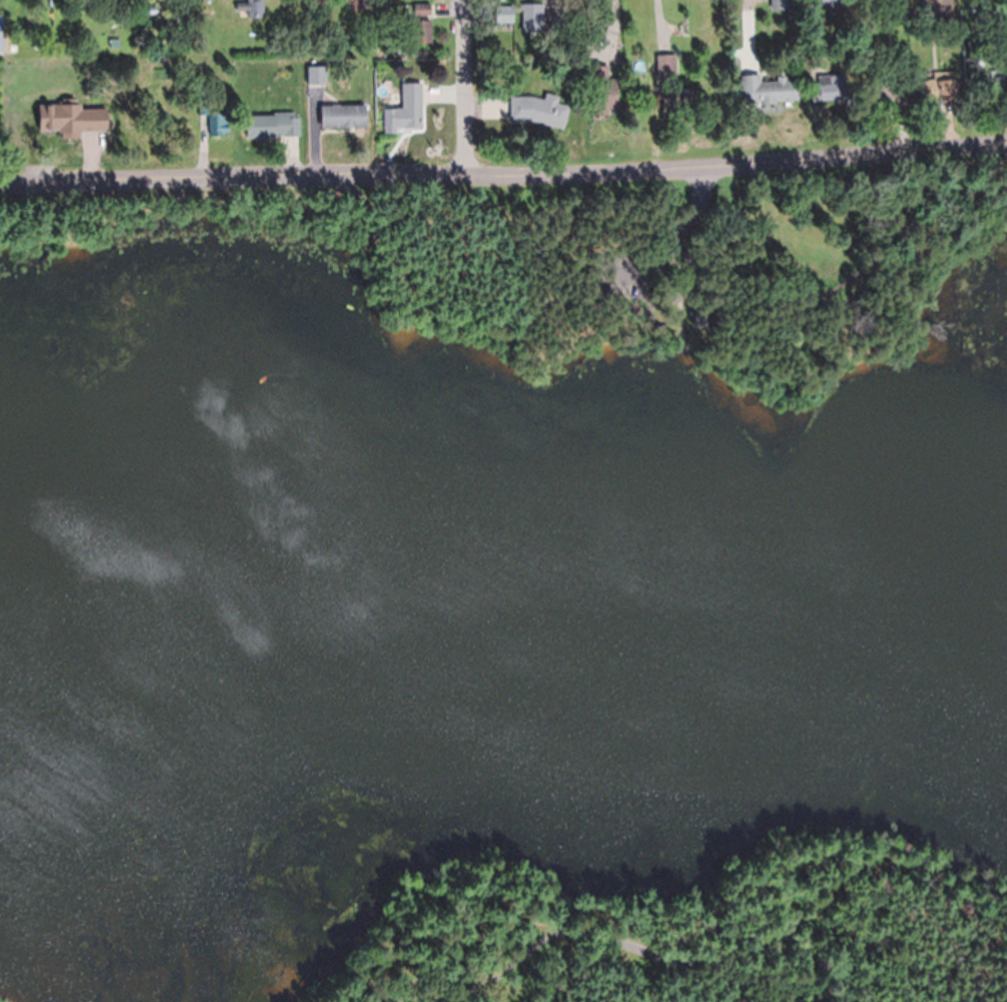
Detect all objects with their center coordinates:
building: (366, 1)
building: (832, 2)
building: (4, 4)
building: (781, 5)
building: (896, 6)
building: (936, 6)
building: (253, 8)
building: (422, 8)
building: (521, 15)
building: (987, 17)
building: (119, 23)
building: (421, 30)
building: (364, 35)
building: (114, 42)
building: (1, 43)
building: (534, 44)
building: (381, 64)
building: (667, 70)
building: (316, 74)
building: (887, 84)
road: (462, 87)
building: (828, 87)
building: (998, 87)
building: (602, 88)
building: (939, 89)
building: (776, 90)
building: (679, 99)
building: (405, 108)
building: (539, 109)
building: (69, 118)
building: (213, 118)
building: (354, 118)
building: (31, 122)
building: (272, 124)
road: (993, 144)
road: (670, 169)
road: (180, 176)
road: (680, 243)
building: (692, 256)
parking lot: (649, 260)
road: (856, 276)
road: (502, 294)
park: (507, 590)
river: (505, 597)
road: (876, 875)
road: (601, 938)
road: (823, 964)

